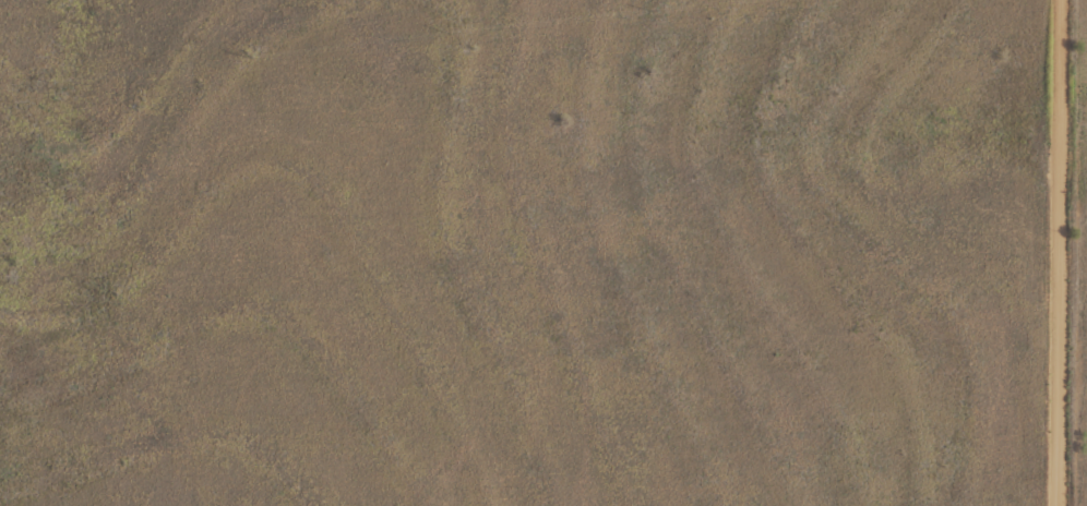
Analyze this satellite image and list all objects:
road: (1061, 253)

